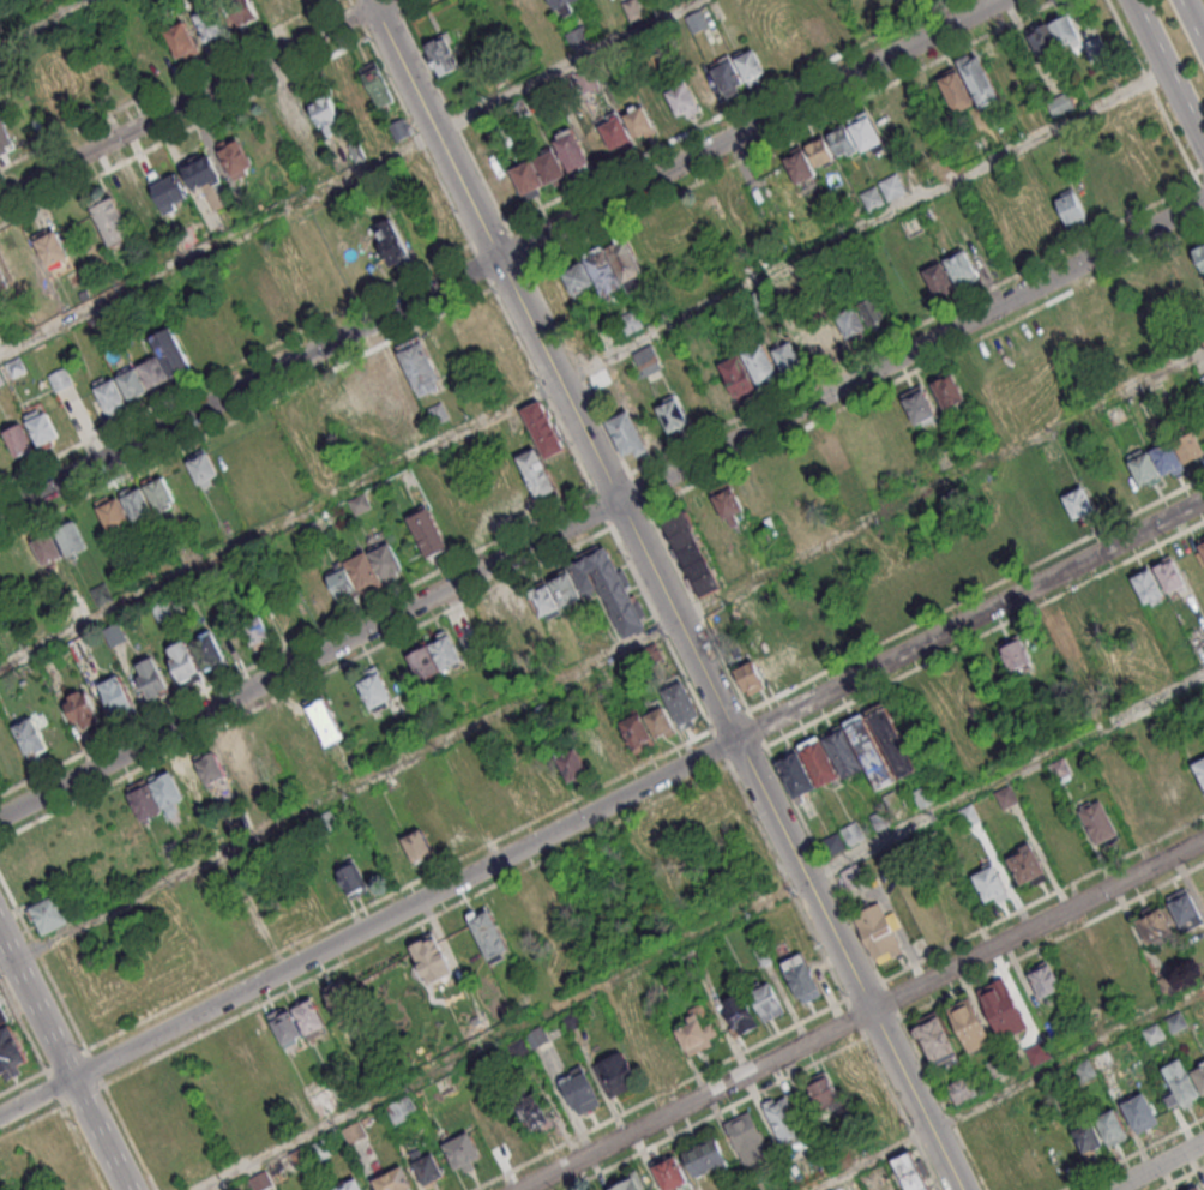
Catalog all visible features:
building: (564, 6)
building: (631, 7)
building: (243, 11)
building: (531, 13)
road: (37, 19)
building: (209, 19)
building: (696, 20)
road: (1192, 22)
building: (606, 24)
building: (1066, 31)
building: (817, 32)
building: (578, 37)
building: (181, 38)
building: (1043, 46)
building: (444, 52)
building: (1097, 52)
building: (148, 54)
building: (750, 65)
building: (727, 76)
road: (1166, 76)
building: (584, 78)
building: (378, 84)
building: (981, 86)
building: (705, 88)
building: (957, 95)
road: (192, 98)
building: (353, 98)
building: (682, 98)
building: (53, 106)
building: (1061, 107)
building: (518, 109)
building: (662, 109)
building: (325, 113)
building: (638, 119)
building: (290, 124)
building: (398, 128)
building: (615, 131)
building: (865, 132)
building: (5, 134)
building: (842, 140)
building: (591, 144)
building: (355, 150)
building: (820, 150)
building: (570, 151)
building: (234, 156)
building: (321, 163)
building: (548, 164)
building: (800, 167)
building: (526, 174)
road: (350, 179)
building: (206, 180)
building: (500, 186)
building: (1102, 186)
building: (167, 188)
building: (895, 188)
building: (874, 200)
building: (142, 204)
building: (1070, 208)
building: (711, 209)
building: (849, 211)
building: (110, 217)
building: (827, 222)
building: (389, 241)
building: (49, 246)
building: (1199, 254)
road: (499, 256)
building: (626, 260)
building: (962, 268)
building: (1185, 268)
building: (602, 270)
building: (577, 277)
building: (937, 277)
building: (1160, 282)
building: (4, 284)
building: (272, 293)
building: (763, 305)
building: (873, 311)
building: (850, 321)
building: (1084, 323)
building: (632, 325)
building: (827, 332)
building: (173, 355)
building: (787, 357)
building: (645, 360)
building: (760, 363)
building: (419, 365)
building: (155, 372)
road: (583, 372)
building: (736, 375)
building: (1203, 377)
building: (60, 378)
building: (133, 383)
building: (387, 386)
building: (947, 390)
building: (112, 395)
building: (337, 403)
building: (919, 405)
building: (673, 414)
building: (541, 428)
building: (41, 429)
building: (626, 432)
building: (18, 440)
building: (1190, 447)
building: (1167, 457)
building: (833, 459)
building: (200, 467)
building: (1142, 468)
building: (537, 474)
building: (158, 491)
building: (726, 501)
building: (359, 503)
building: (1078, 503)
building: (137, 504)
road: (602, 507)
building: (112, 515)
building: (428, 533)
building: (1203, 536)
building: (70, 537)
building: (1202, 547)
building: (48, 548)
building: (692, 552)
building: (385, 559)
building: (363, 571)
building: (1169, 573)
building: (342, 582)
building: (1146, 587)
building: (564, 589)
building: (610, 590)
building: (100, 591)
road: (663, 595)
building: (542, 600)
building: (1113, 602)
building: (253, 630)
building: (114, 635)
building: (814, 641)
building: (1065, 644)
building: (207, 650)
building: (1015, 654)
building: (449, 657)
building: (183, 660)
road: (601, 660)
building: (772, 665)
building: (427, 667)
building: (750, 677)
building: (150, 679)
building: (373, 689)
building: (115, 695)
building: (681, 703)
building: (82, 710)
building: (330, 716)
building: (658, 720)
building: (636, 732)
building: (28, 737)
building: (890, 739)
building: (614, 745)
building: (869, 750)
building: (842, 752)
building: (230, 756)
building: (818, 761)
building: (571, 764)
building: (210, 765)
building: (1061, 768)
building: (1200, 770)
building: (795, 773)
building: (187, 776)
building: (164, 788)
building: (1173, 789)
building: (922, 795)
building: (1005, 795)
building: (891, 799)
building: (143, 800)
road: (602, 806)
building: (484, 810)
building: (1139, 810)
building: (968, 813)
building: (1098, 821)
building: (875, 822)
building: (851, 833)
building: (663, 836)
building: (831, 842)
building: (417, 845)
building: (397, 858)
building: (1027, 864)
building: (348, 876)
building: (989, 882)
building: (1186, 908)
building: (54, 920)
building: (263, 925)
building: (1155, 925)
building: (879, 931)
building: (488, 932)
road: (702, 933)
building: (432, 960)
building: (1084, 964)
building: (803, 976)
building: (1045, 979)
building: (342, 1000)
building: (767, 1000)
building: (1004, 1006)
building: (739, 1012)
building: (2, 1014)
road: (861, 1015)
building: (308, 1017)
building: (572, 1017)
building: (1178, 1020)
building: (969, 1023)
building: (287, 1029)
building: (697, 1030)
building: (1154, 1033)
building: (536, 1035)
building: (937, 1038)
building: (518, 1046)
building: (10, 1052)
building: (651, 1053)
building: (1039, 1053)
road: (62, 1063)
building: (999, 1065)
building: (615, 1074)
building: (1199, 1076)
building: (174, 1082)
building: (1181, 1082)
building: (579, 1088)
building: (961, 1089)
building: (821, 1090)
road: (1009, 1090)
building: (401, 1110)
building: (1140, 1111)
building: (534, 1113)
building: (782, 1119)
building: (1113, 1126)
building: (353, 1131)
building: (1086, 1135)
building: (747, 1137)
road: (84, 1147)
building: (319, 1148)
building: (463, 1150)
building: (705, 1156)
building: (299, 1159)
road: (1156, 1165)
building: (426, 1166)
building: (909, 1171)
building: (670, 1173)
building: (393, 1179)
building: (260, 1180)
building: (631, 1182)
building: (850, 1183)
building: (348, 1184)
building: (1194, 1188)
building: (830, 1189)

